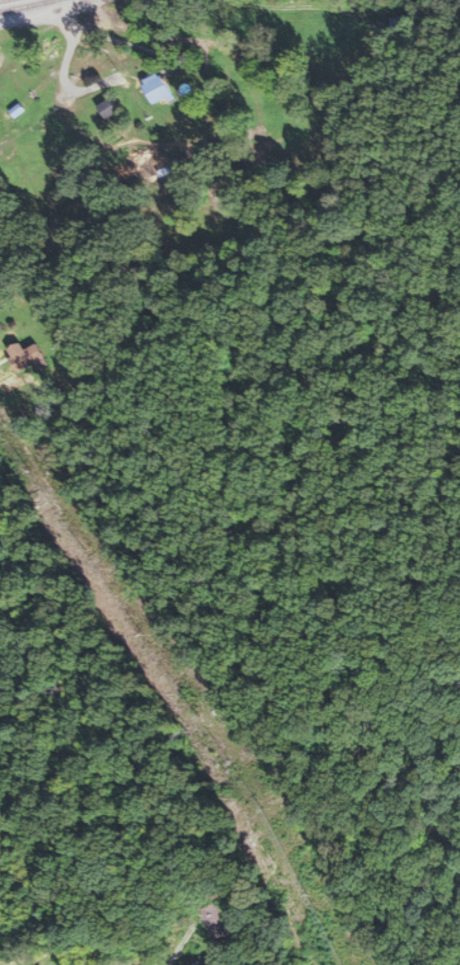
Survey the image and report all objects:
railway: (20, 3)
road: (44, 11)
building: (402, 24)
building: (348, 52)
building: (158, 88)
building: (216, 922)

